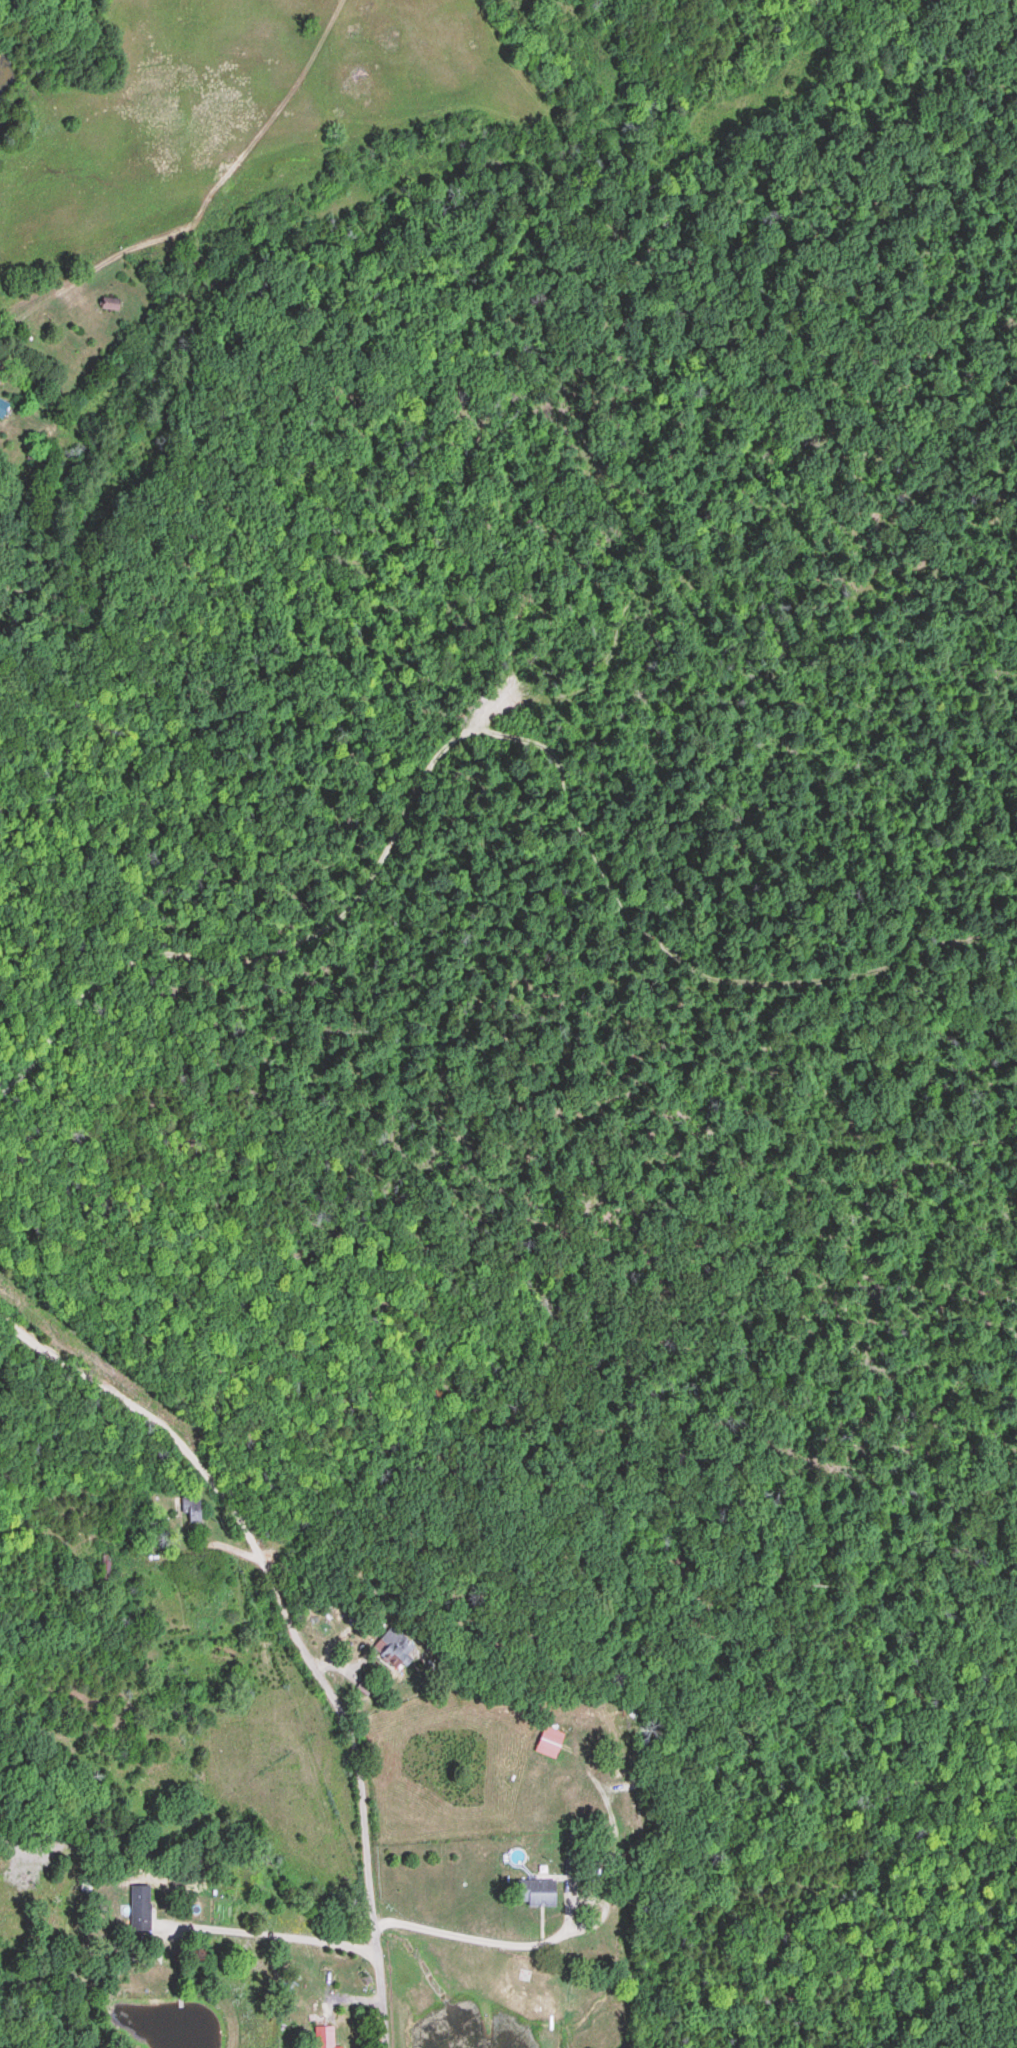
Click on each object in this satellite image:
building: (110, 302)
building: (2, 407)
building: (192, 1507)
building: (393, 1646)
building: (363, 1685)
road: (334, 1706)
building: (549, 1742)
building: (536, 1891)
building: (140, 1902)
building: (322, 2036)
building: (340, 2047)

